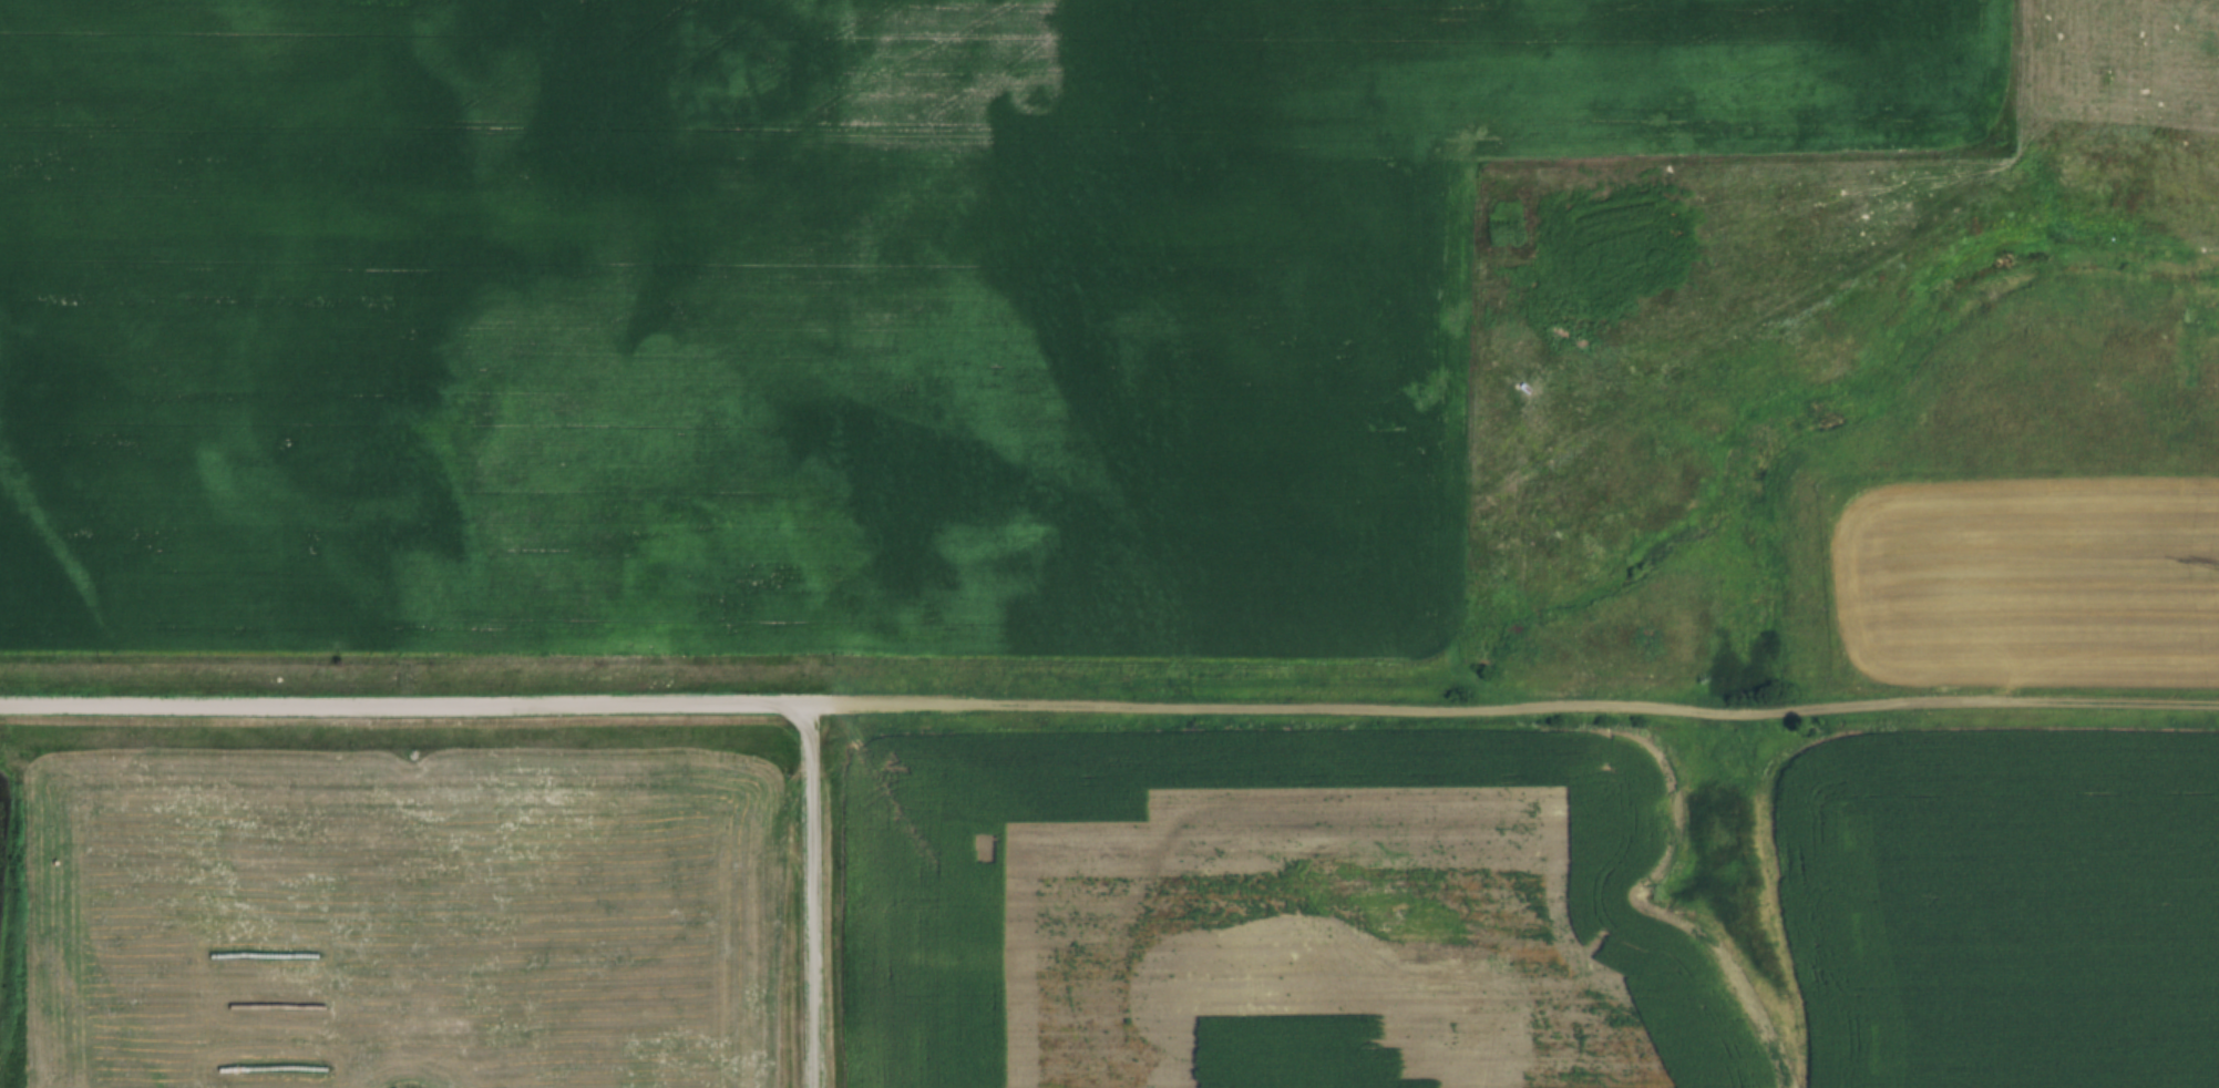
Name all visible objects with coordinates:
road: (400, 704)
road: (1509, 707)
road: (803, 896)

